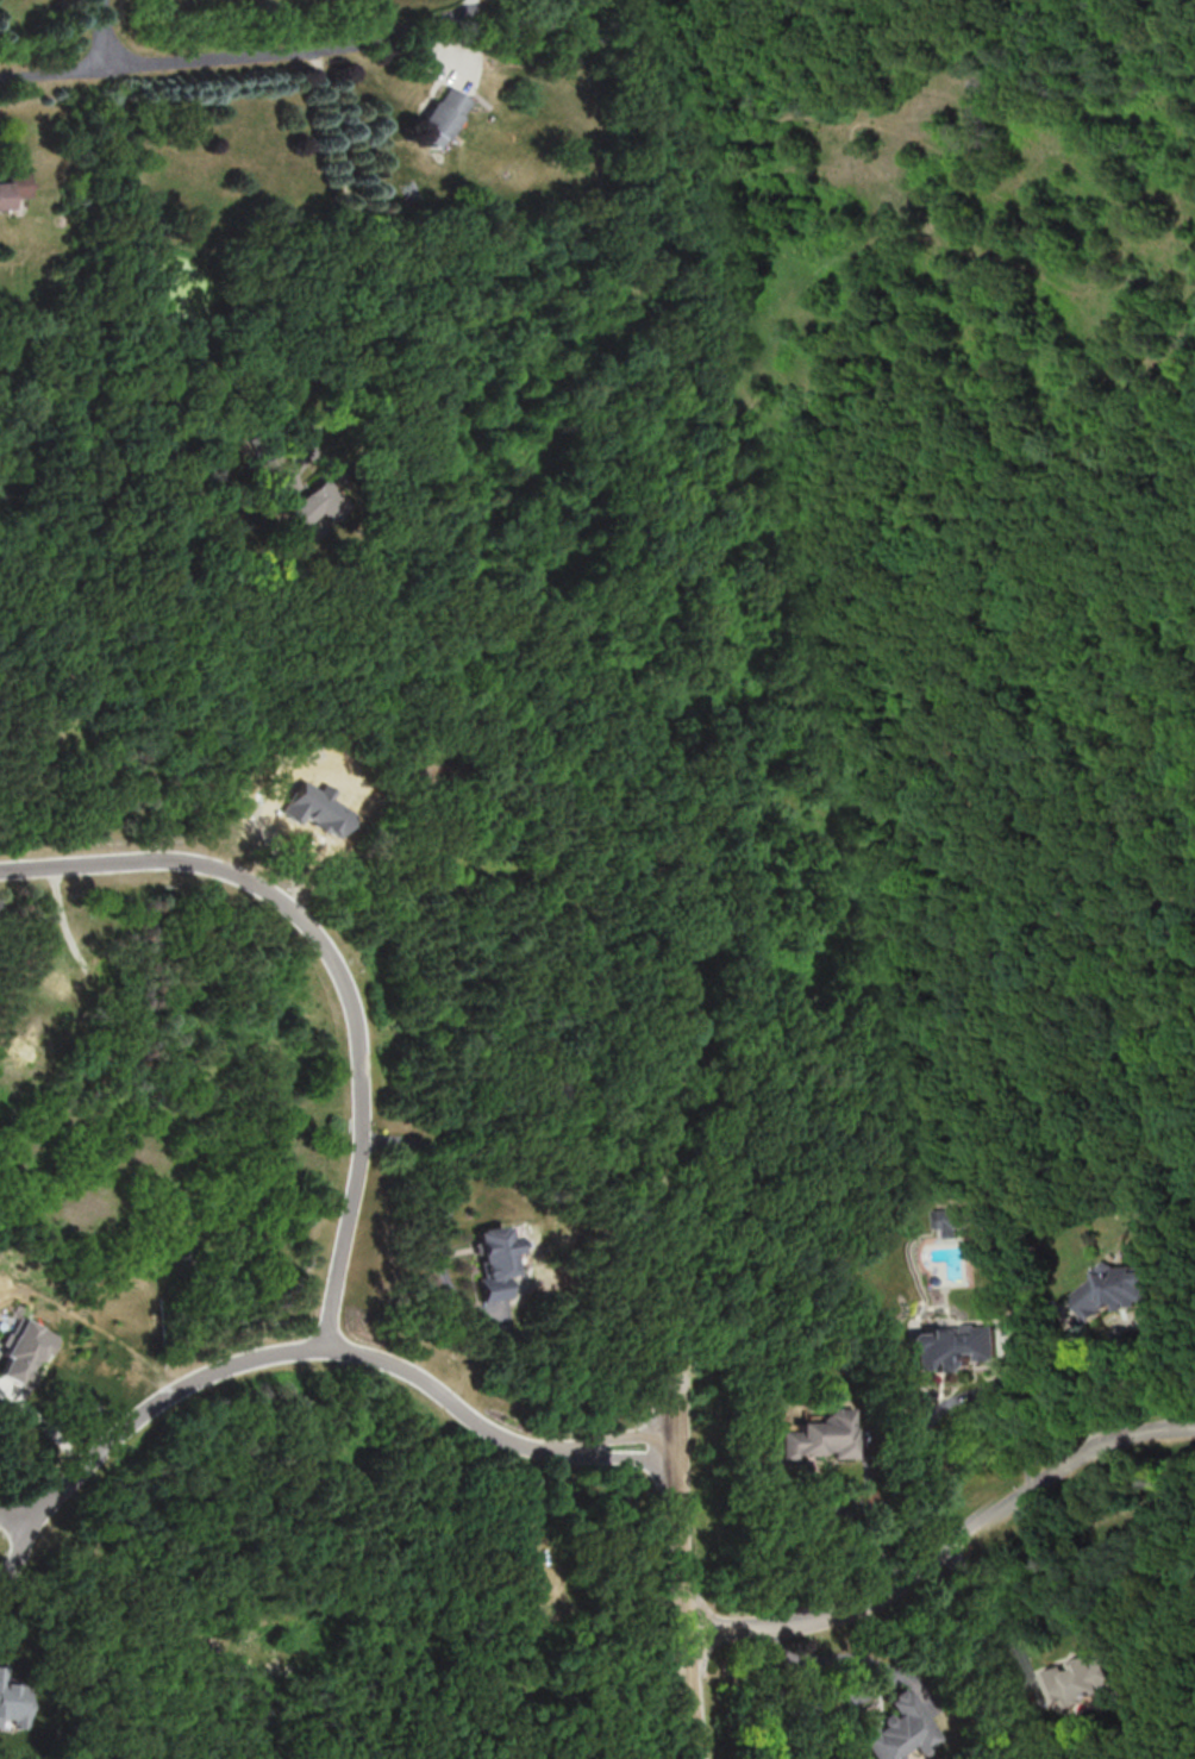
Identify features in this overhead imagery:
road: (463, 12)
road: (108, 32)
road: (226, 57)
building: (439, 117)
building: (13, 188)
road: (365, 261)
building: (318, 503)
building: (315, 808)
road: (338, 970)
road: (450, 1193)
building: (949, 1220)
building: (495, 1262)
building: (1113, 1287)
road: (1152, 1335)
building: (951, 1346)
building: (21, 1351)
road: (261, 1354)
road: (1088, 1375)
road: (943, 1407)
road: (622, 1423)
building: (821, 1436)
road: (624, 1442)
road: (864, 1516)
road: (945, 1548)
road: (689, 1565)
road: (987, 1601)
building: (1077, 1680)
building: (12, 1701)
building: (894, 1728)

